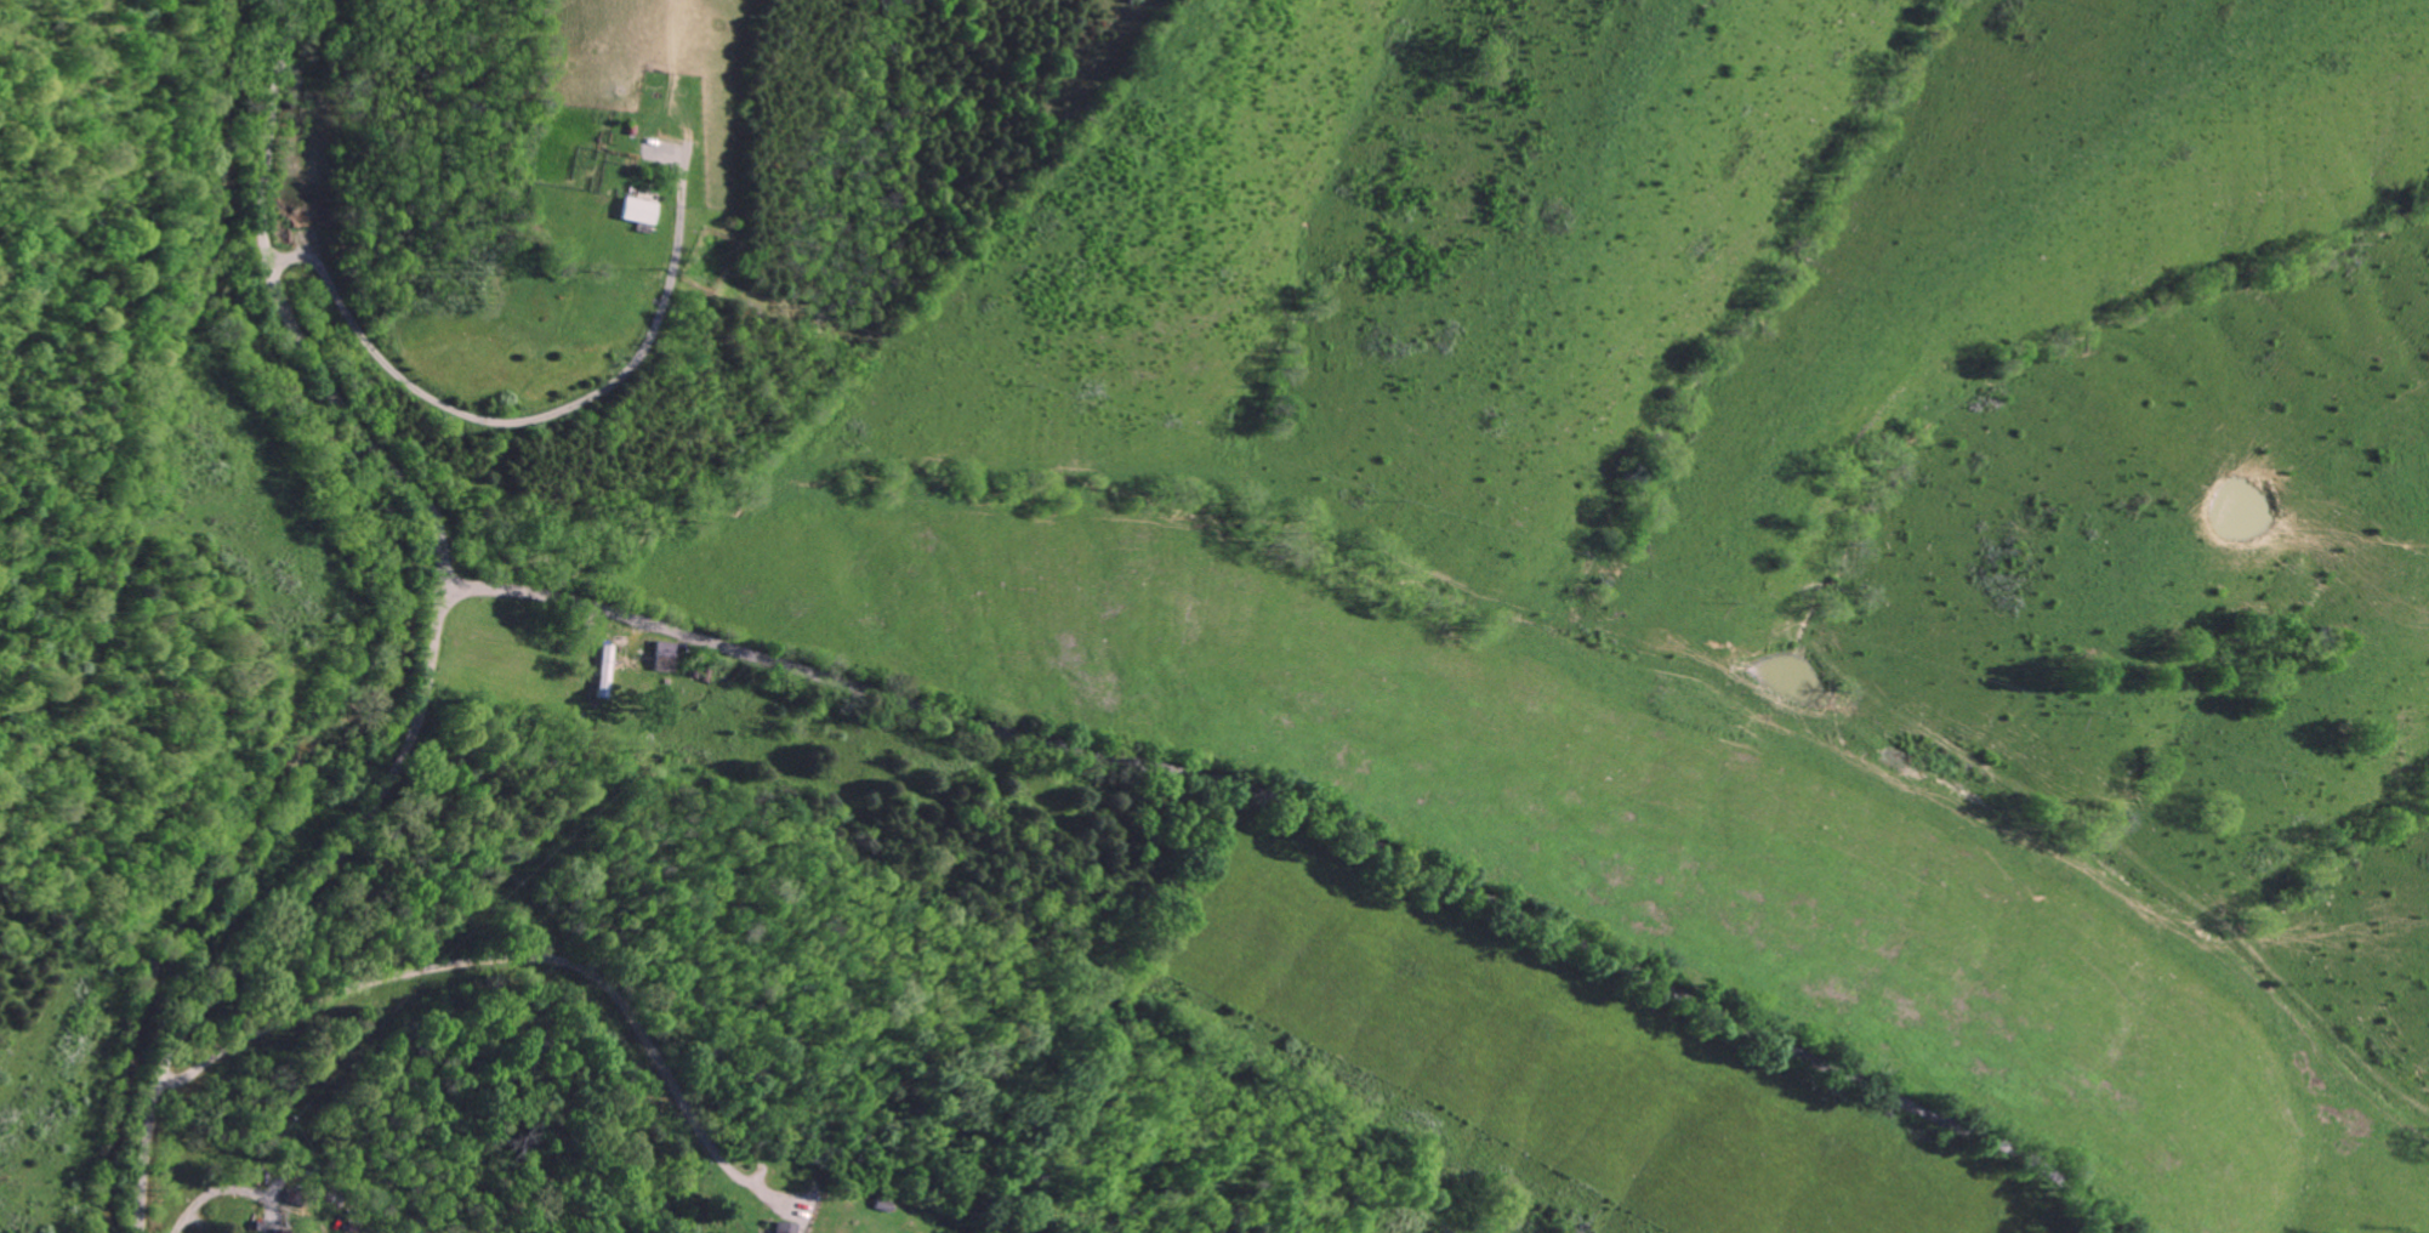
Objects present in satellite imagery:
building: (633, 210)
road: (523, 417)
road: (433, 631)
building: (666, 655)
building: (604, 671)
road: (1305, 814)
road: (512, 960)
road: (211, 1193)
building: (784, 1227)

